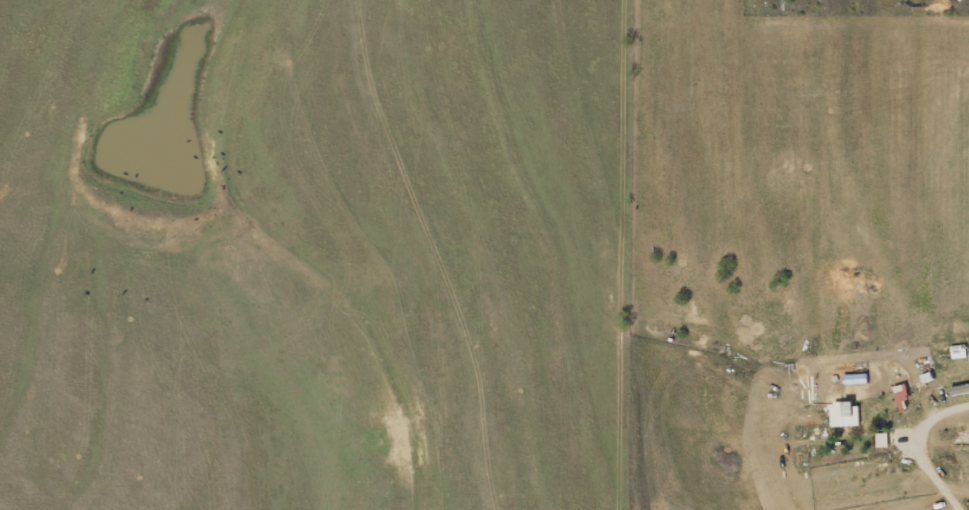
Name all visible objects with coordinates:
road: (776, 242)
building: (839, 409)
building: (878, 440)

